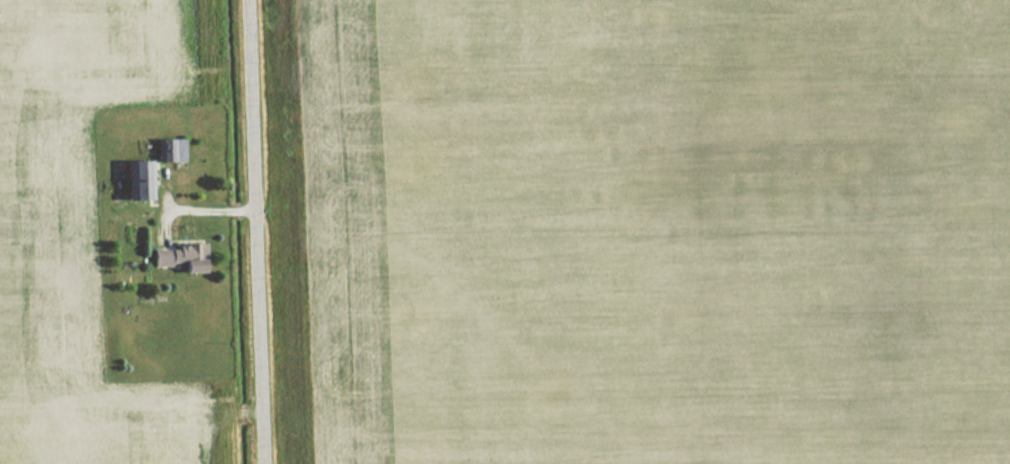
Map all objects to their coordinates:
building: (137, 181)
road: (199, 210)
crop: (75, 222)
crop: (657, 230)
road: (255, 232)

